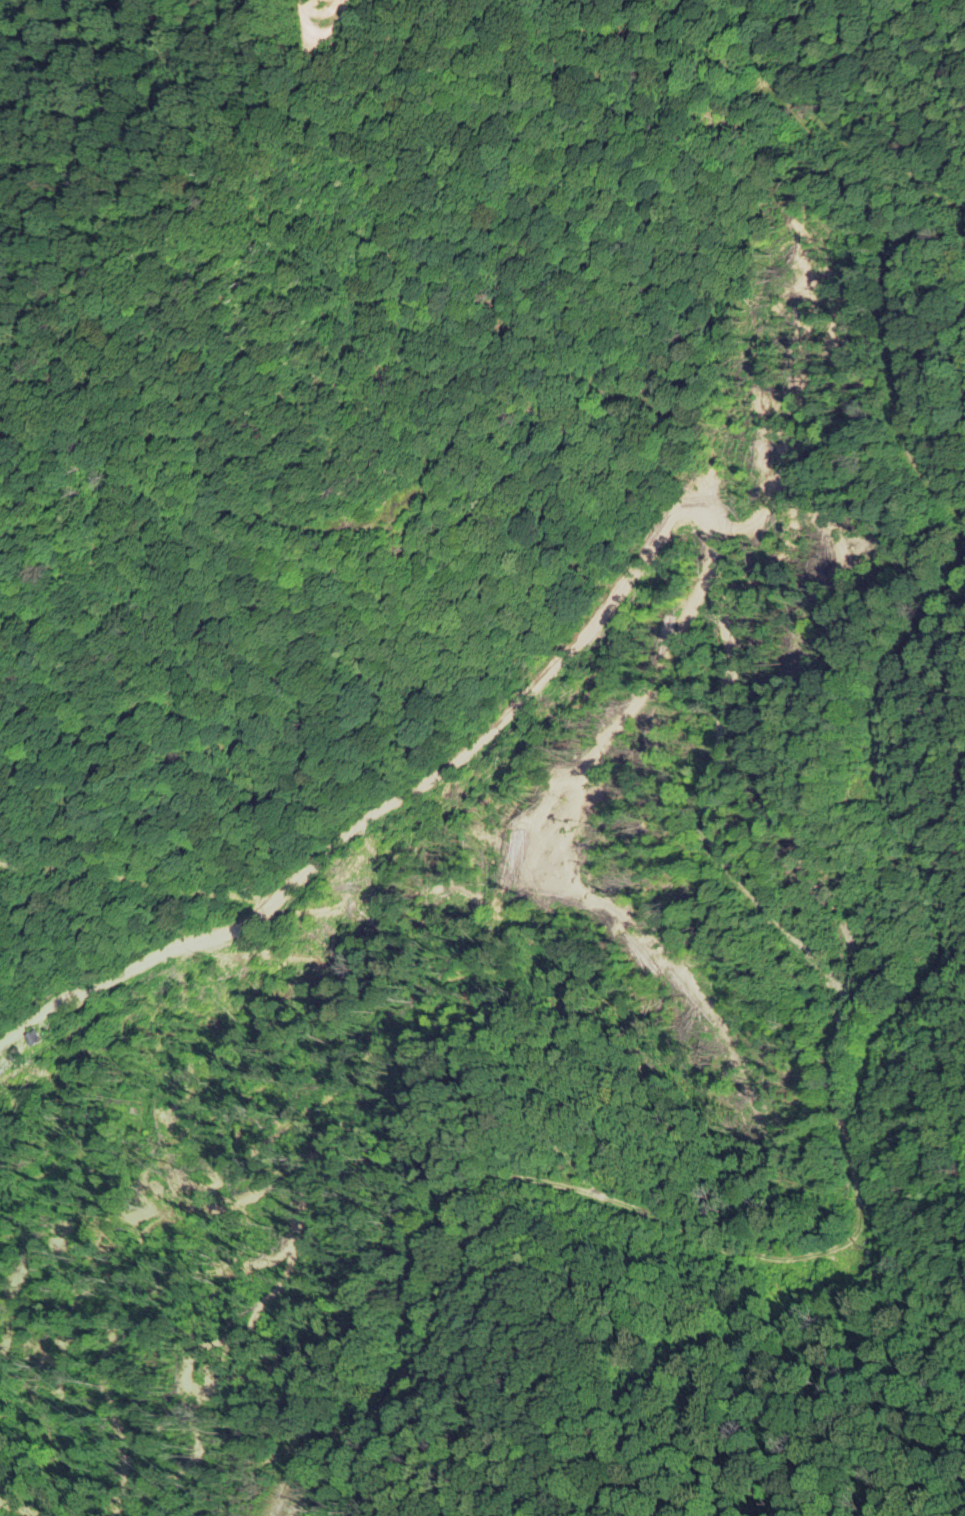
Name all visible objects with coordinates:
road: (20, 1038)

